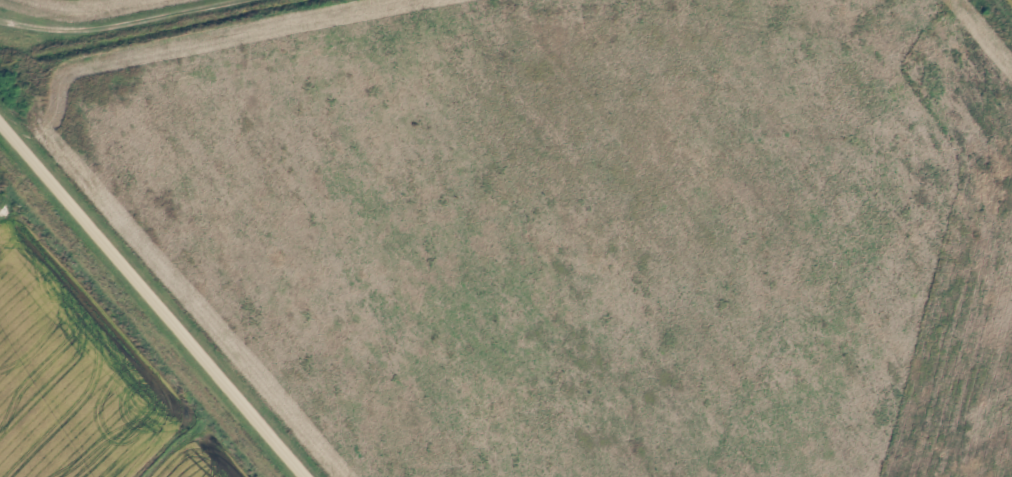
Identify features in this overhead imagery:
road: (155, 295)

